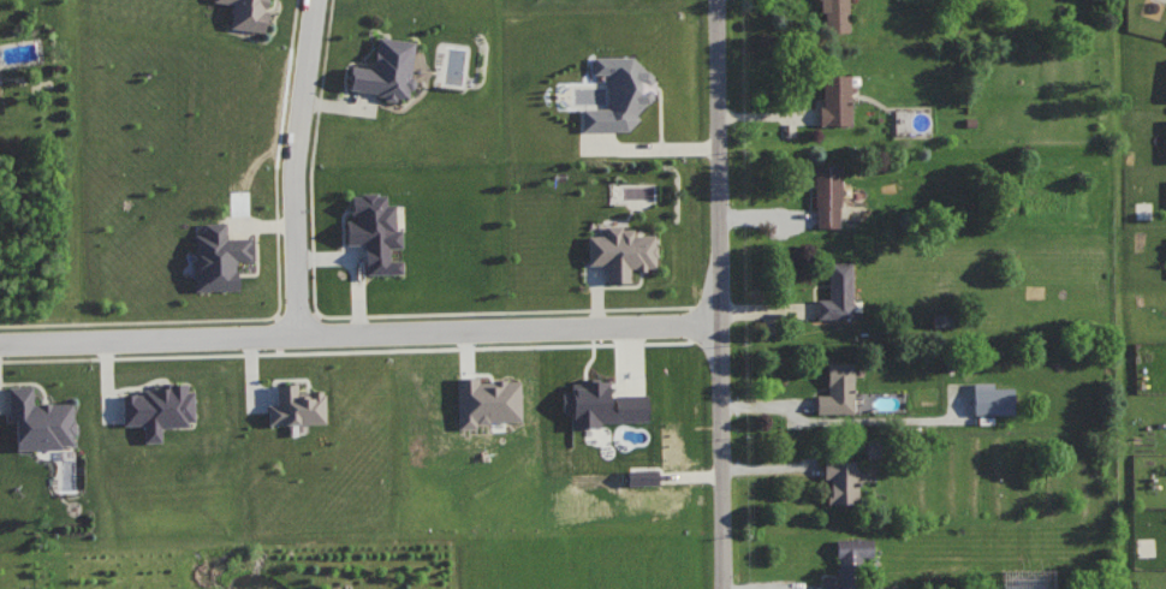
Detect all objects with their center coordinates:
building: (249, 13)
building: (834, 14)
building: (386, 67)
building: (620, 93)
building: (835, 97)
road: (656, 147)
road: (296, 166)
building: (827, 194)
building: (374, 230)
building: (621, 250)
building: (218, 255)
building: (837, 291)
road: (718, 294)
road: (359, 331)
building: (838, 387)
building: (992, 397)
building: (487, 399)
building: (603, 403)
building: (297, 404)
building: (157, 406)
building: (40, 418)
building: (642, 475)
building: (841, 478)
building: (849, 561)

